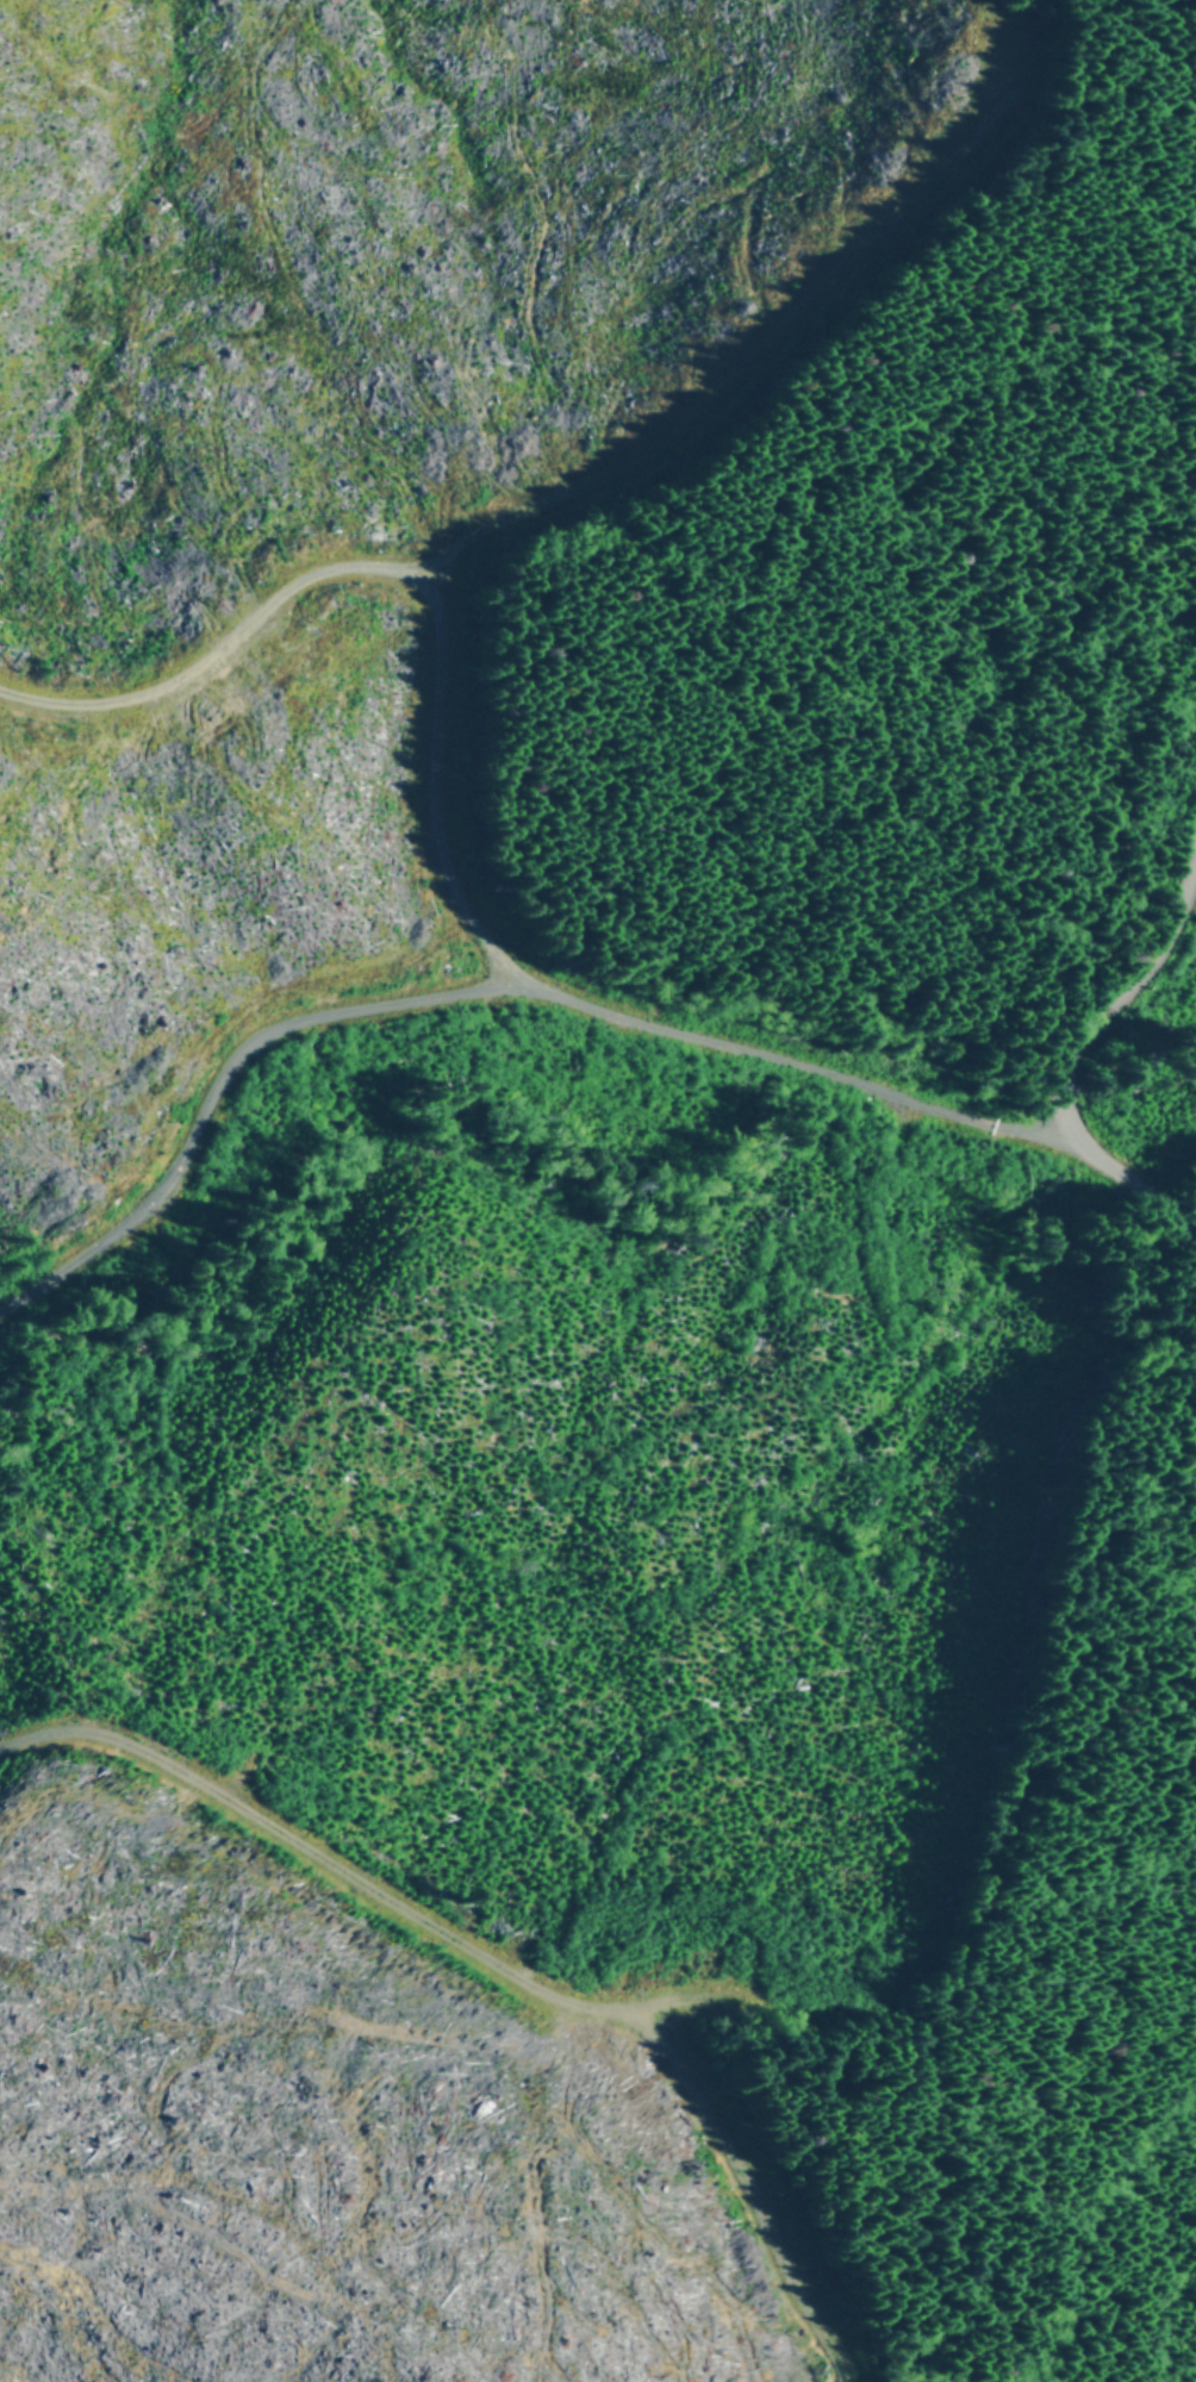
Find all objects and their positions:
road: (779, 354)
road: (398, 575)
road: (1116, 997)
road: (549, 1000)
road: (500, 1965)
road: (886, 1977)

